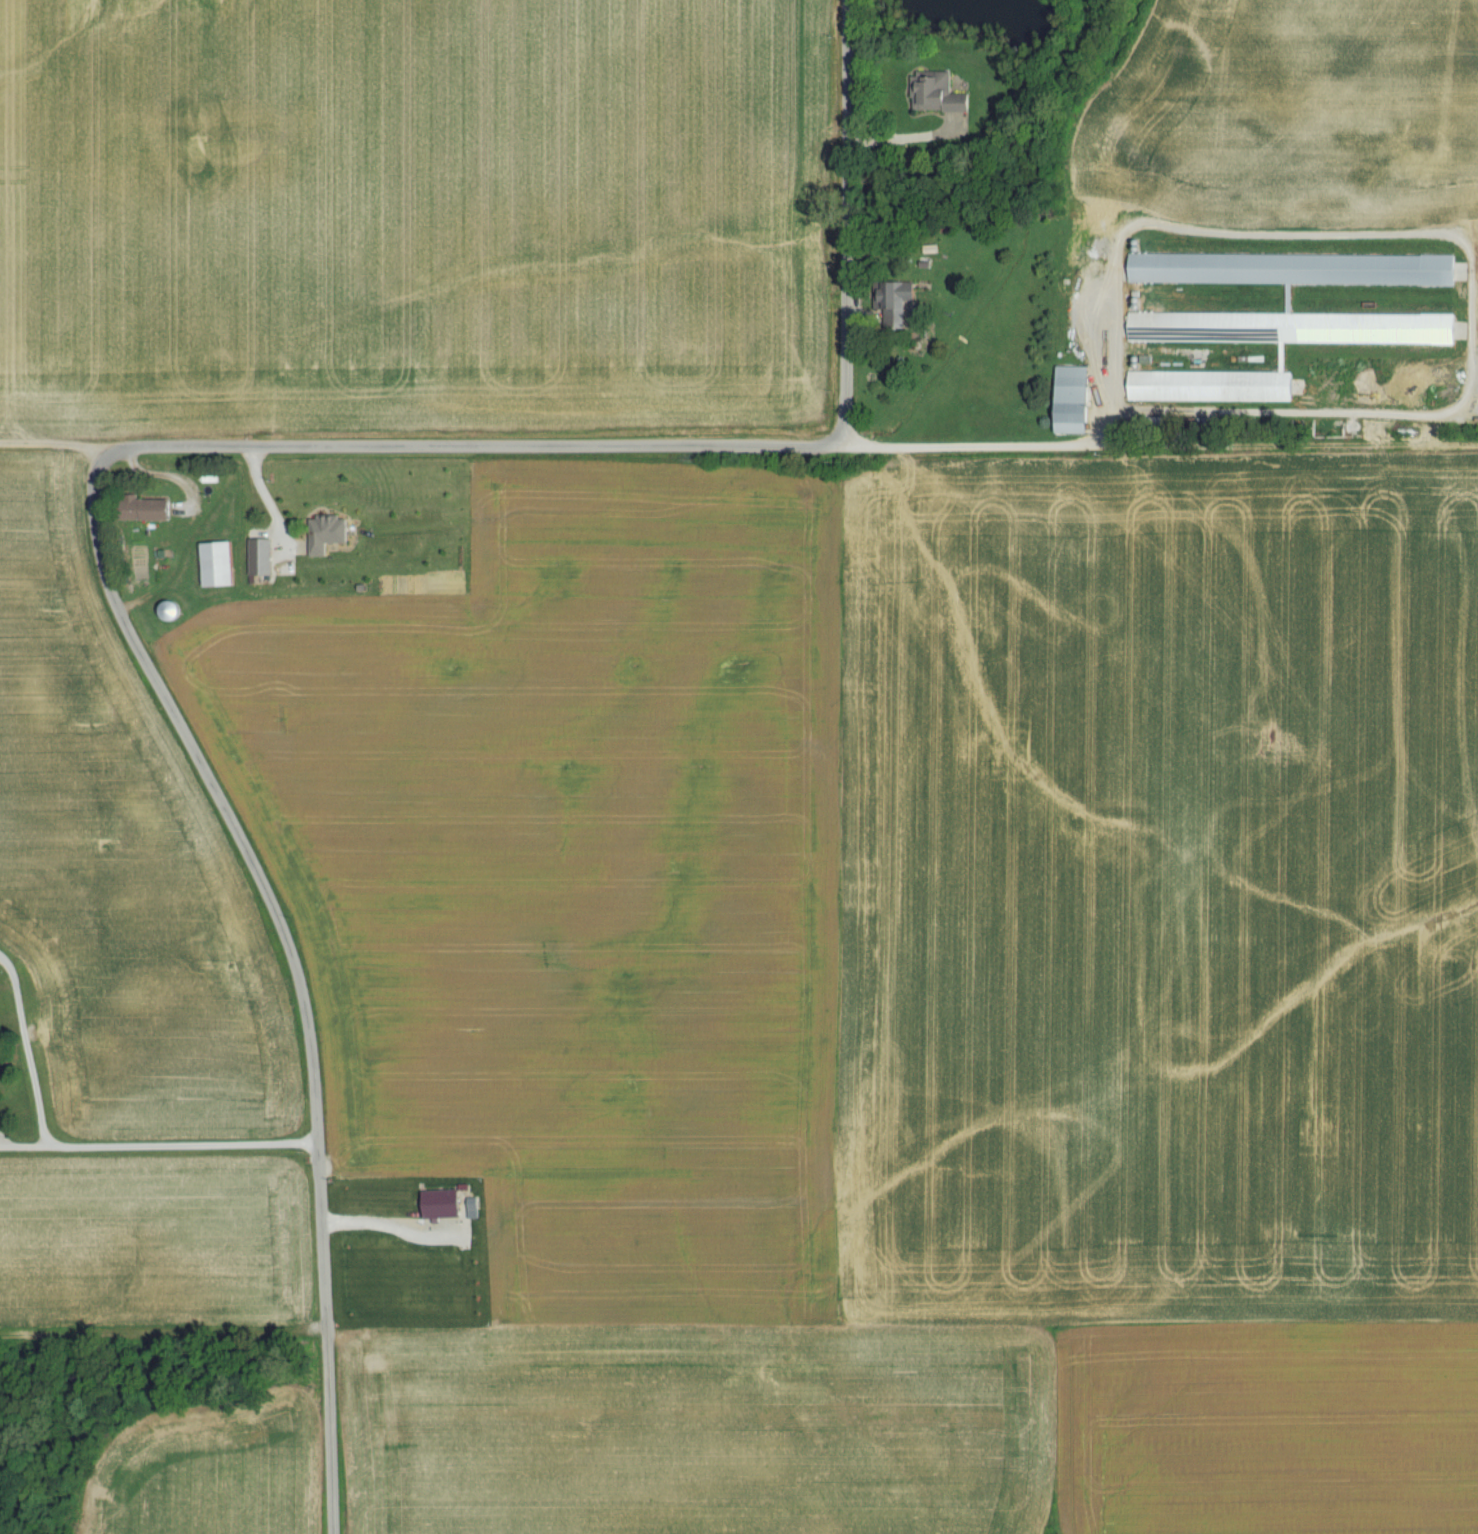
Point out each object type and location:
building: (933, 94)
road: (916, 137)
road: (841, 223)
building: (893, 297)
building: (1290, 300)
building: (1267, 302)
building: (1207, 388)
road: (51, 442)
road: (467, 445)
road: (1148, 447)
road: (1469, 447)
road: (161, 478)
building: (149, 511)
building: (221, 565)
building: (173, 612)
road: (293, 970)
road: (24, 1053)
road: (156, 1146)
road: (385, 1226)

